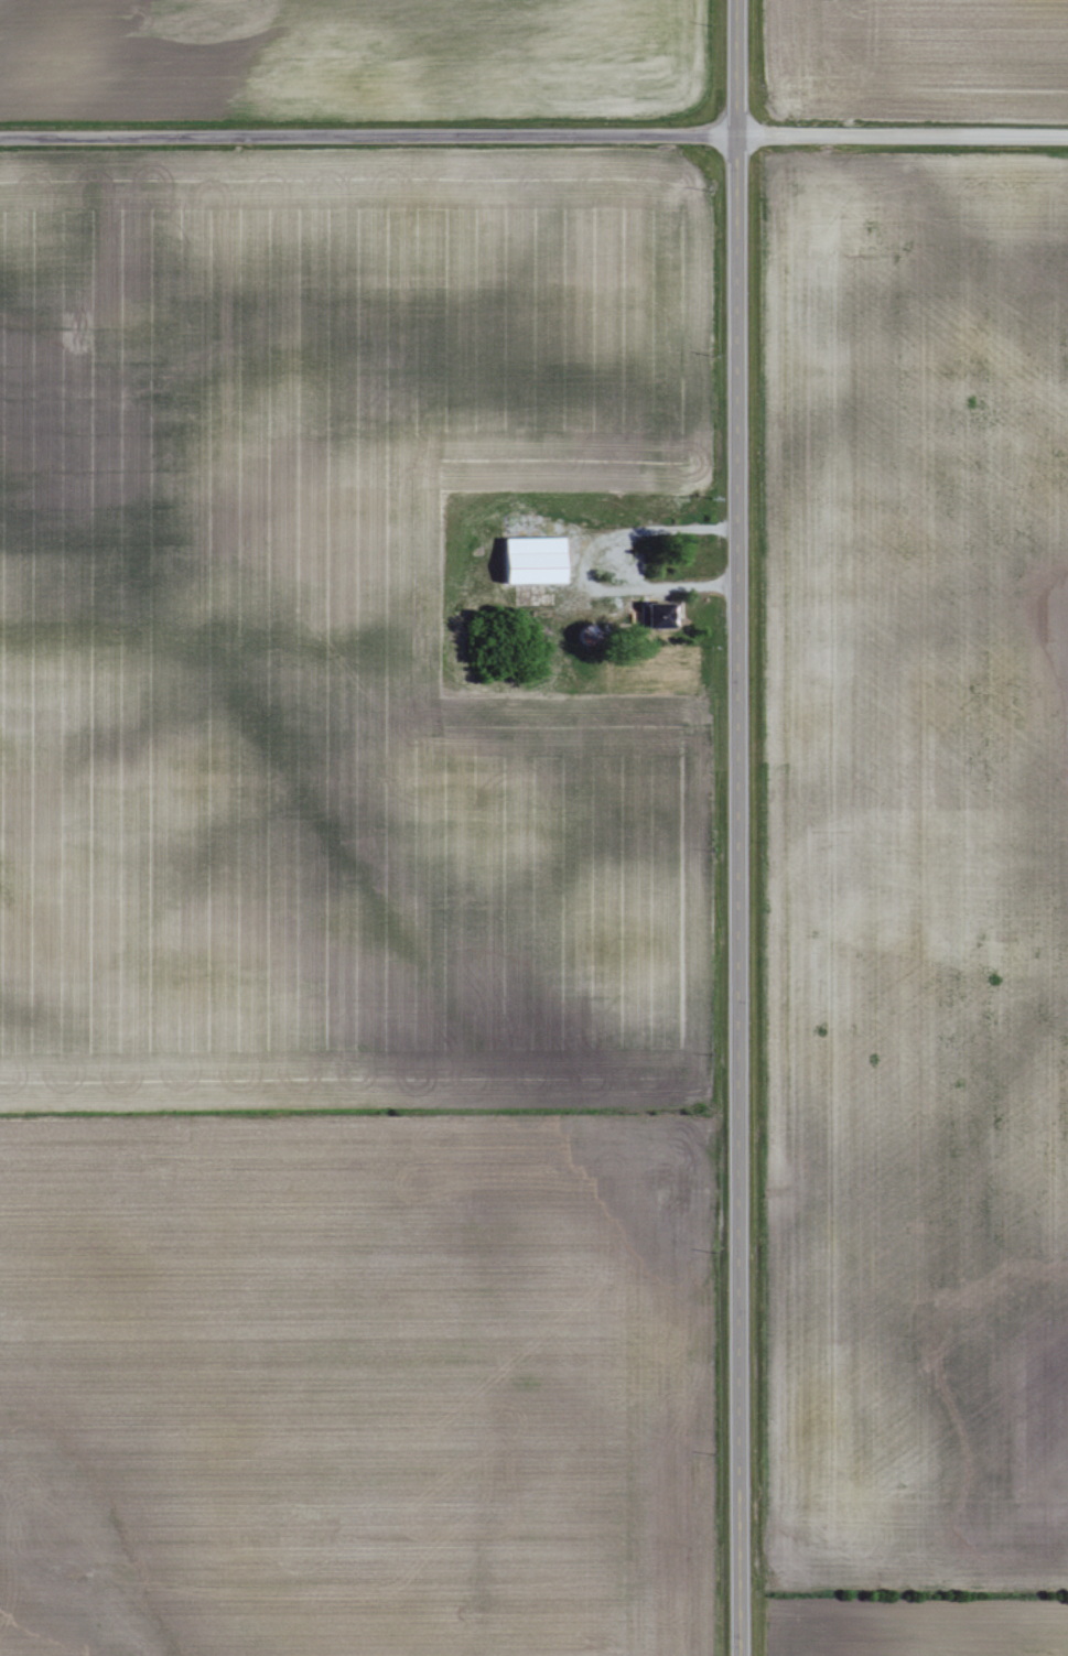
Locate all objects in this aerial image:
road: (533, 134)
building: (532, 561)
building: (655, 616)
road: (734, 827)

